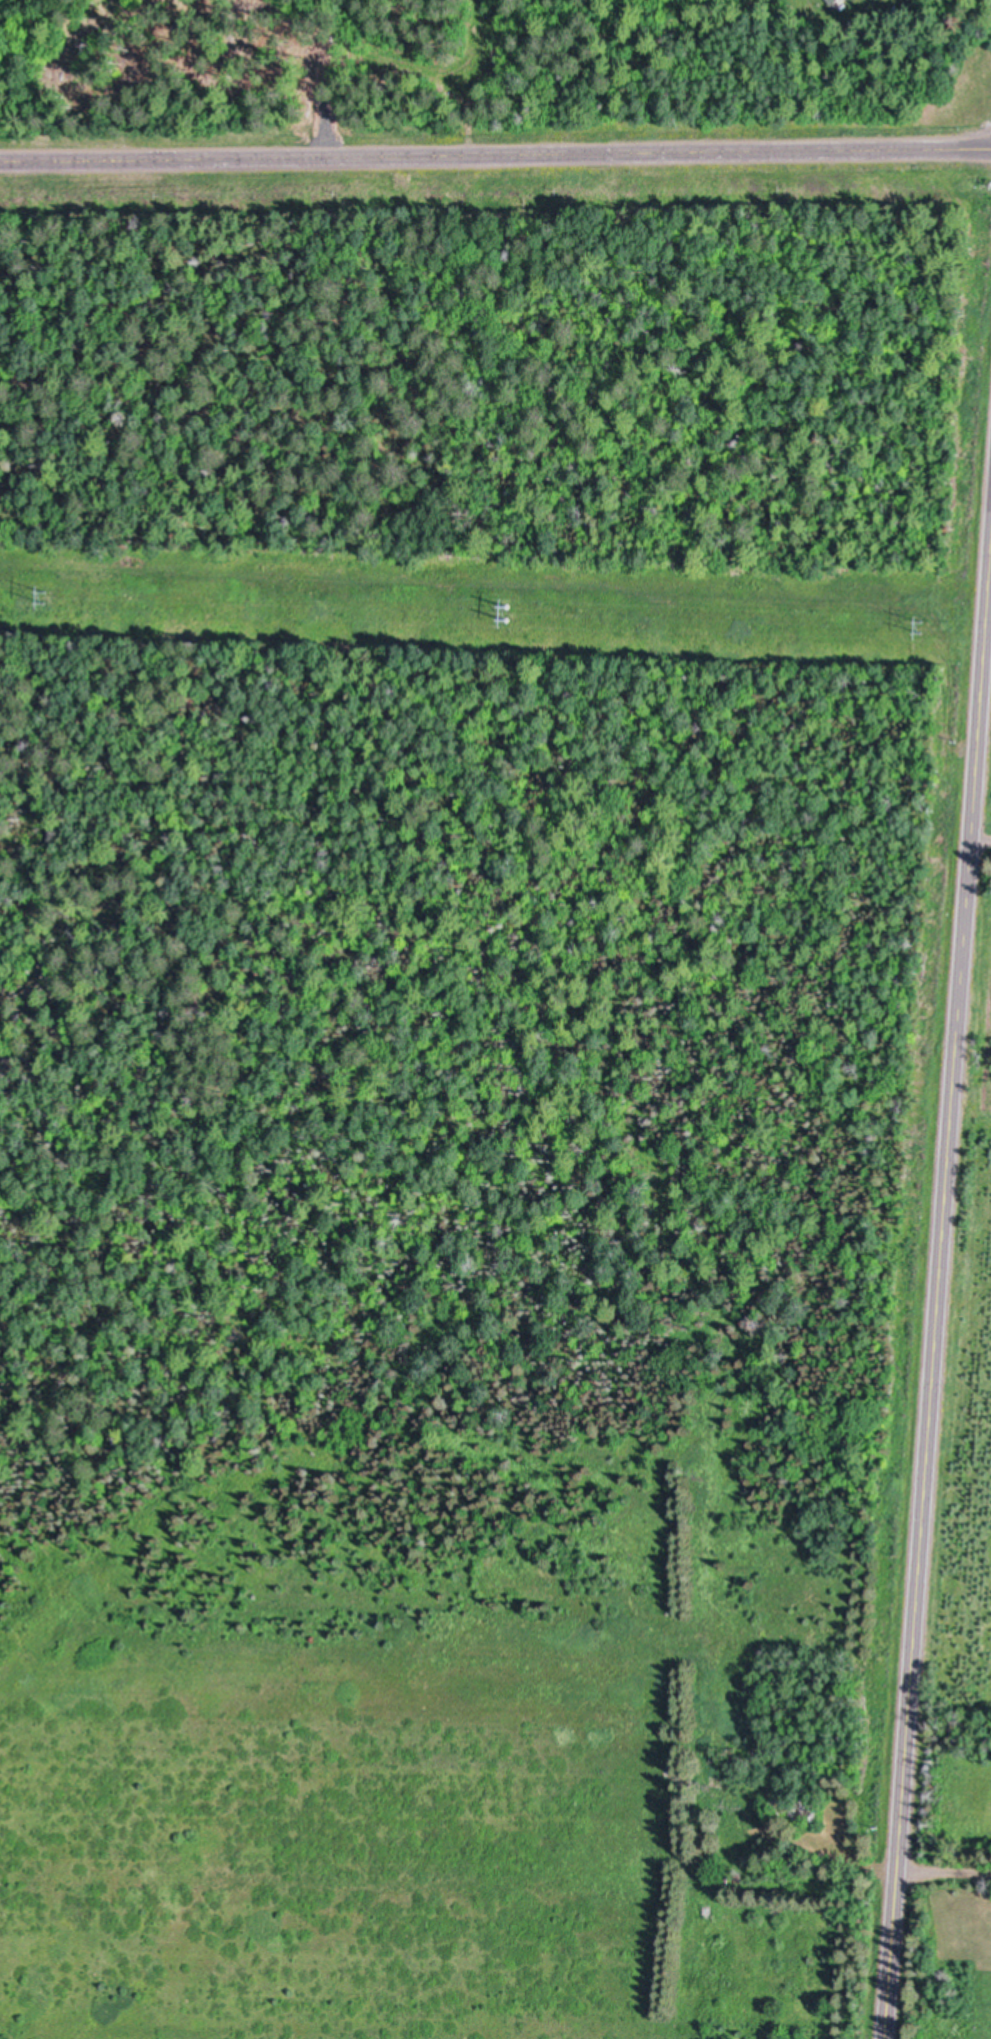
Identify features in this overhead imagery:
building: (831, 2)
road: (495, 155)
power tower: (55, 598)
power tower: (497, 618)
power tower: (931, 631)
road: (980, 841)
road: (936, 1294)
building: (721, 1761)
building: (807, 1808)
road: (943, 1876)

